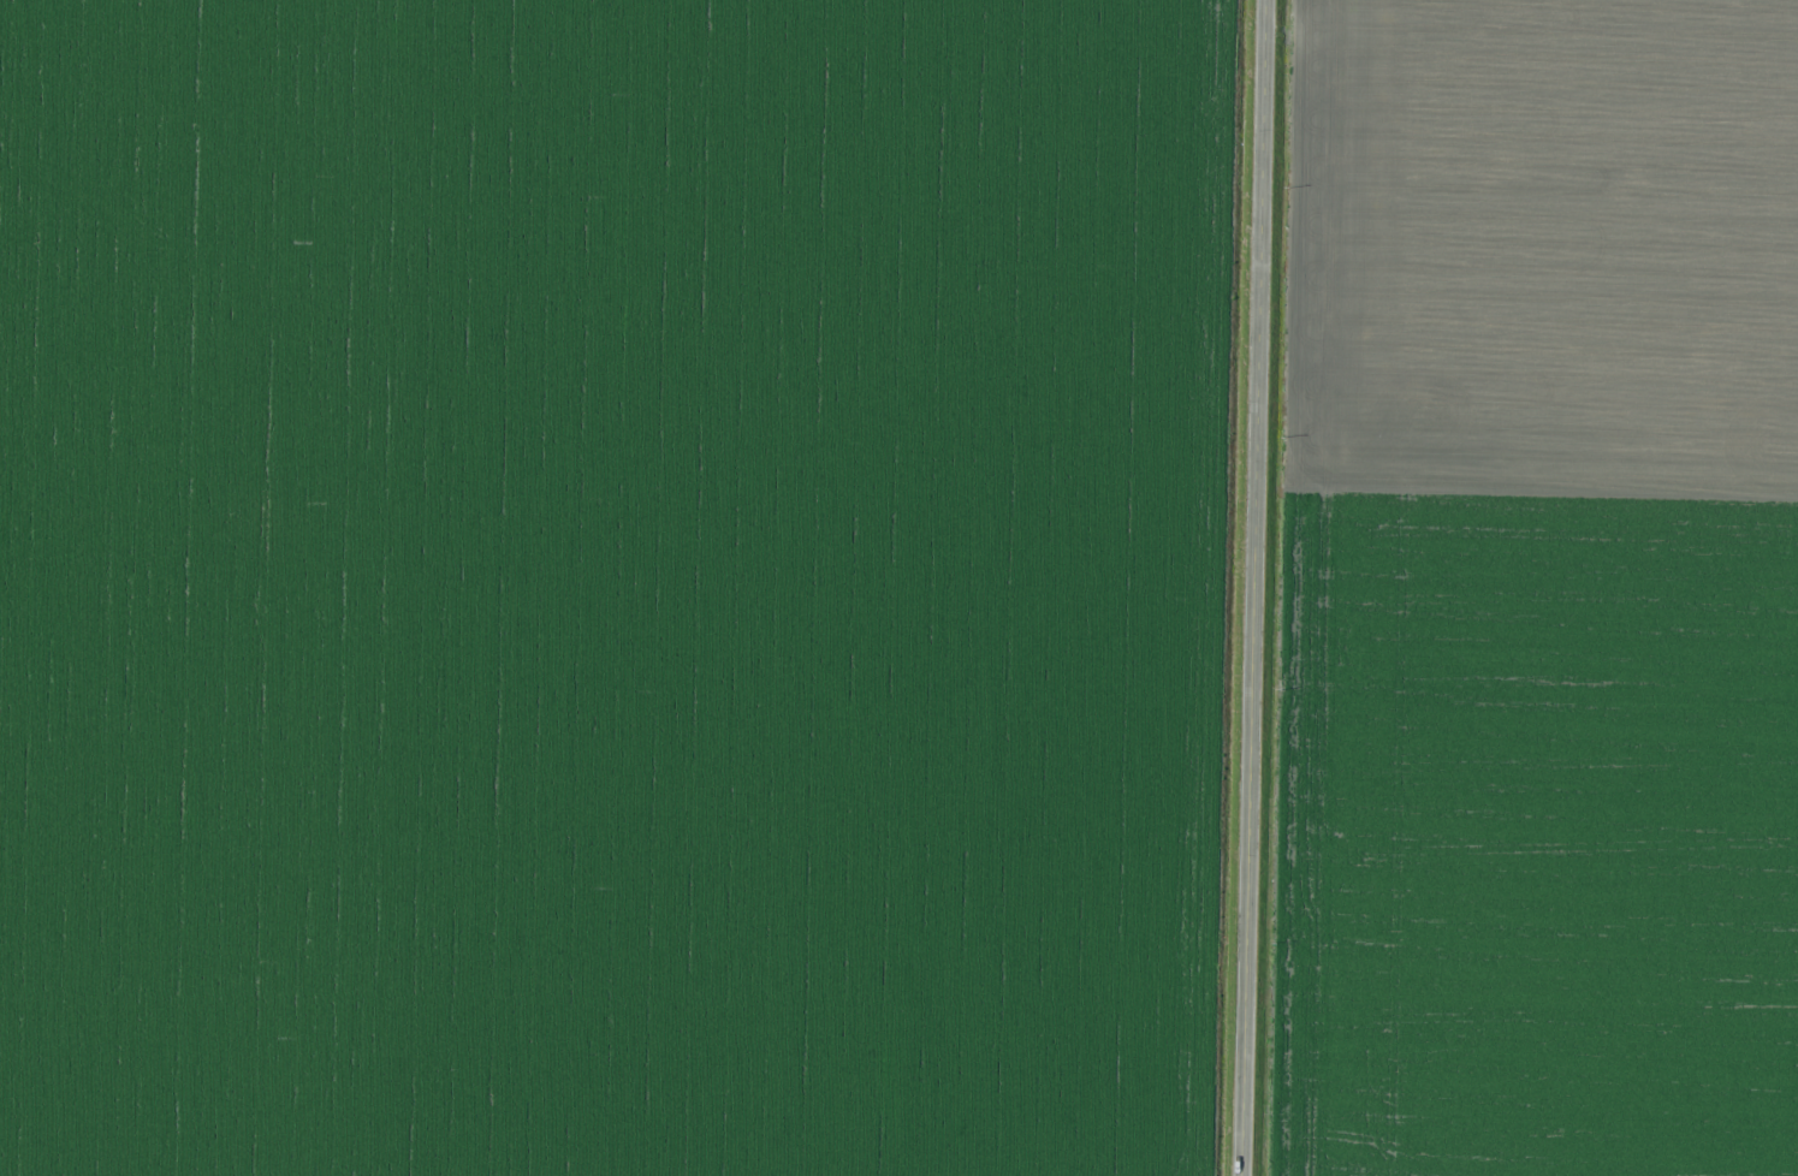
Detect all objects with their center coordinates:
road: (1253, 588)

